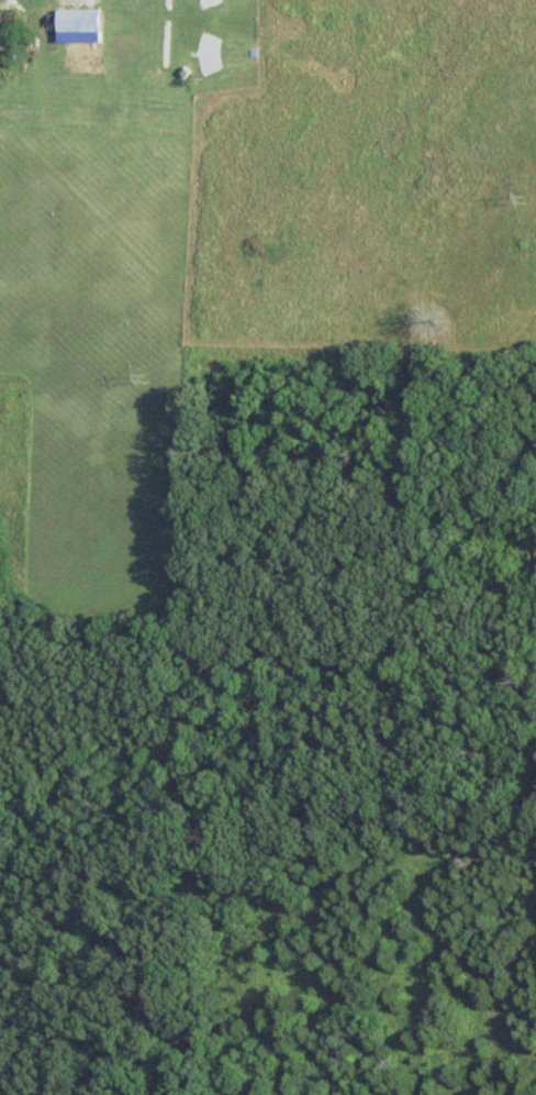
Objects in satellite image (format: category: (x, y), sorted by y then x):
building: (83, 21)
building: (90, 58)
power tower: (521, 198)
power tower: (141, 379)

